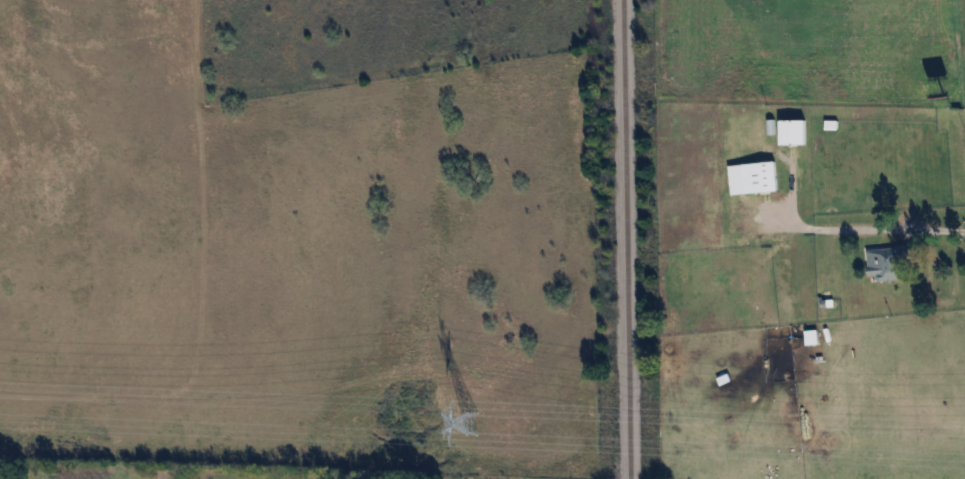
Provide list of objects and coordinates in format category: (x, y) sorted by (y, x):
building: (793, 133)
building: (753, 178)
road: (850, 227)
railway: (625, 239)
building: (894, 260)
power tower: (471, 423)

